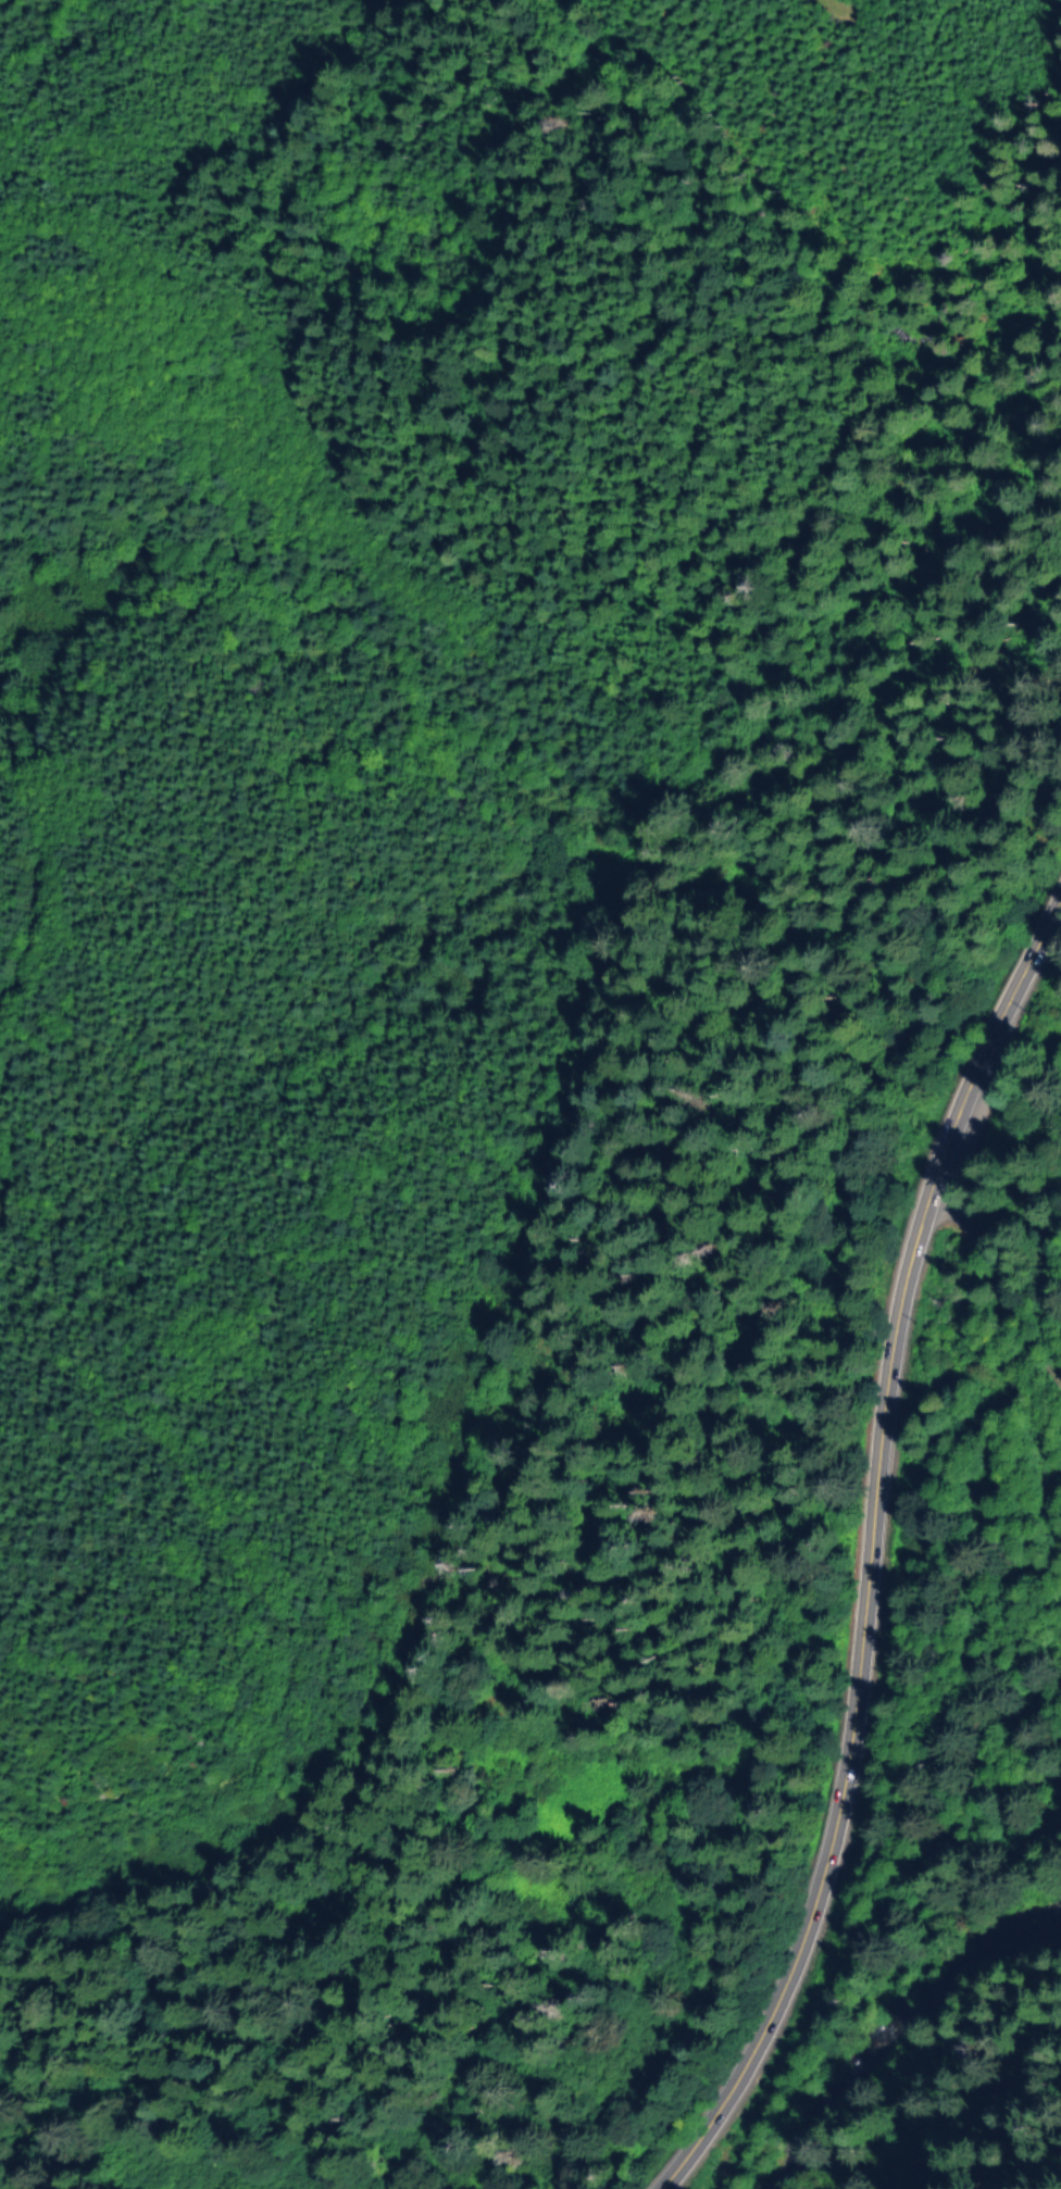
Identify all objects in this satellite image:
road: (875, 1548)
river: (903, 2051)

